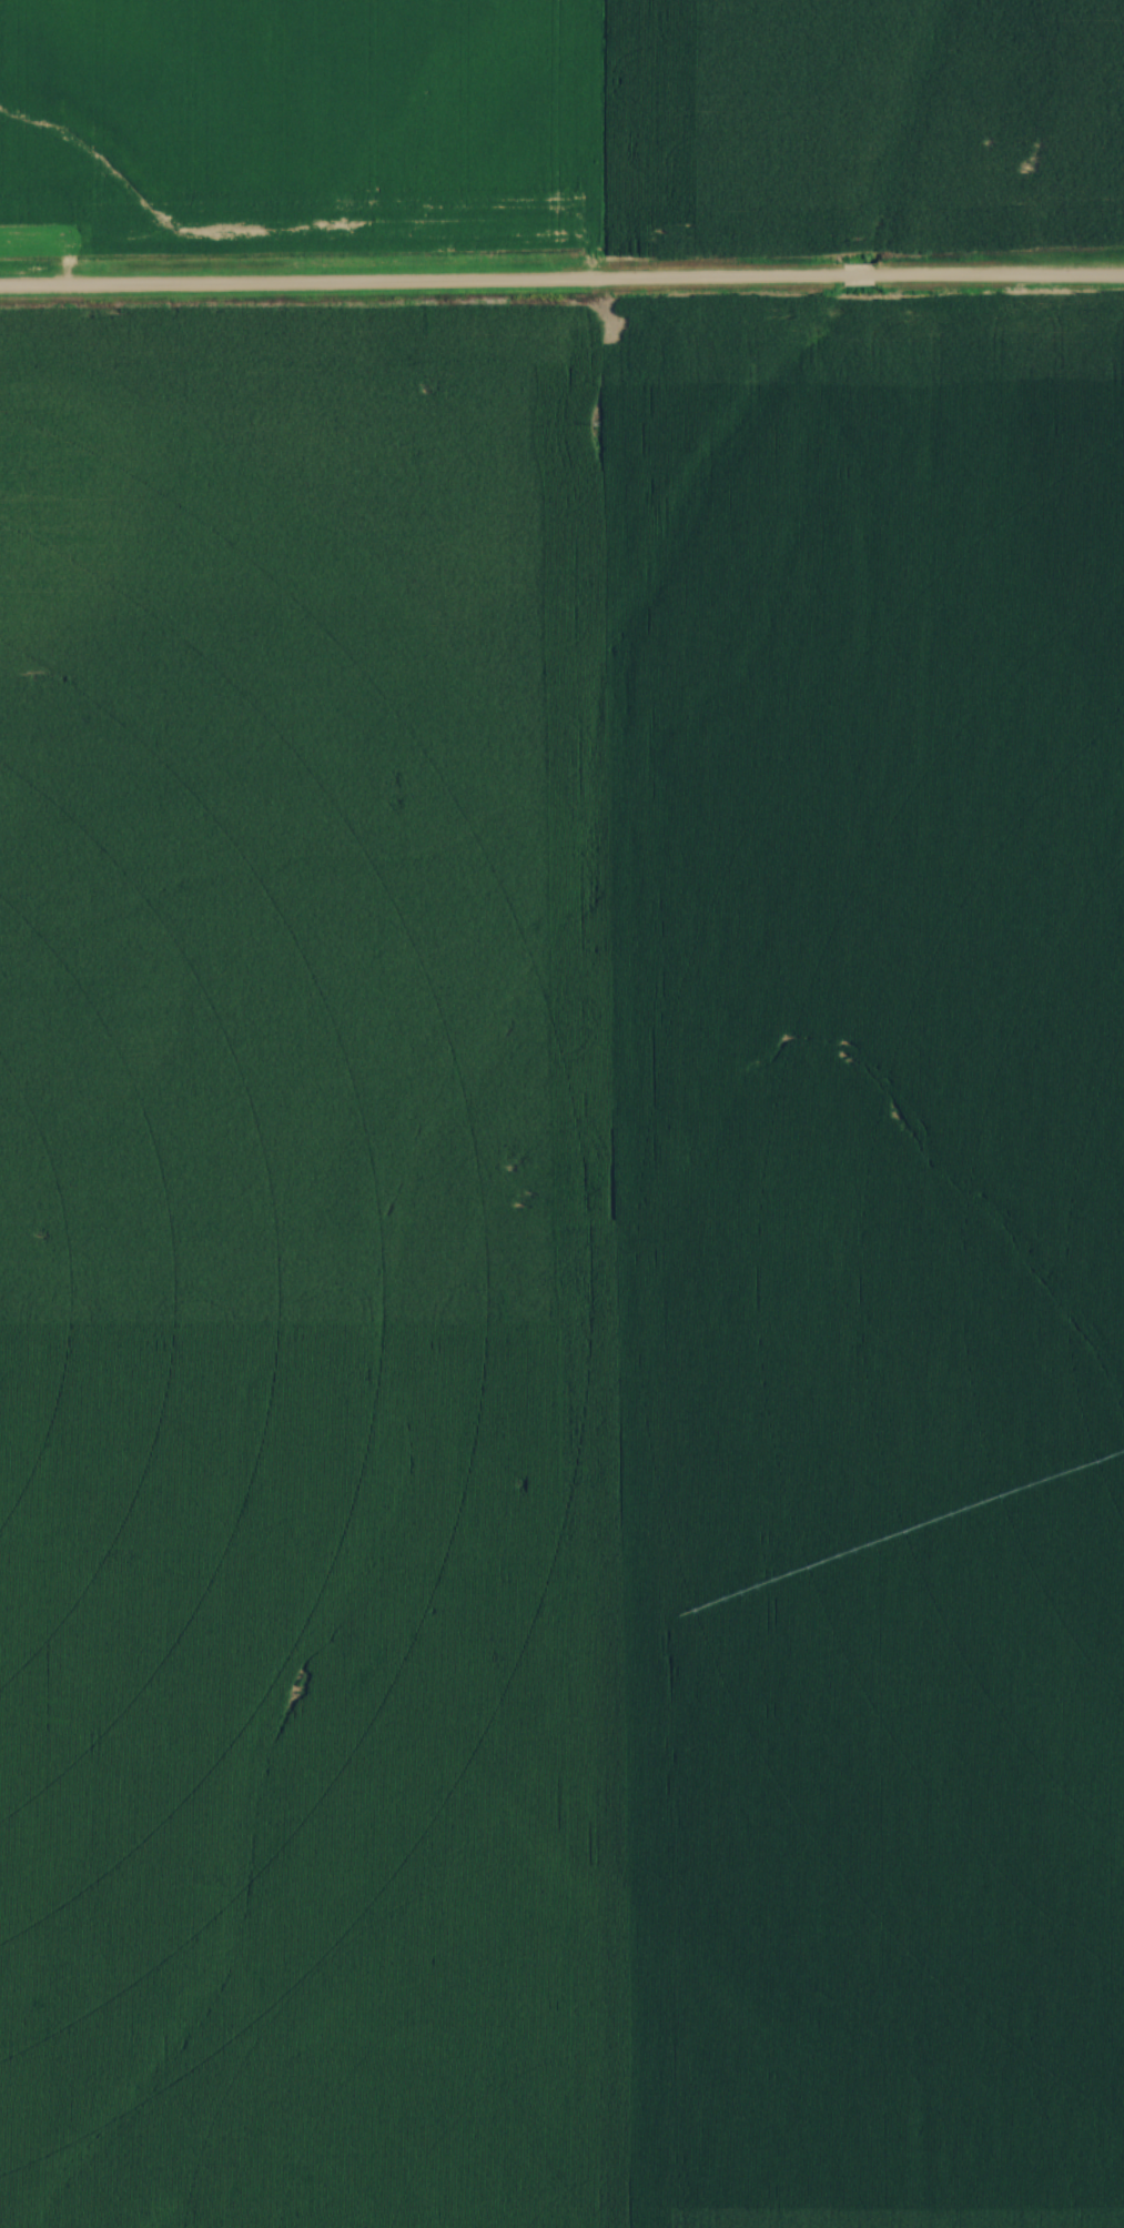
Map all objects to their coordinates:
road: (561, 284)

